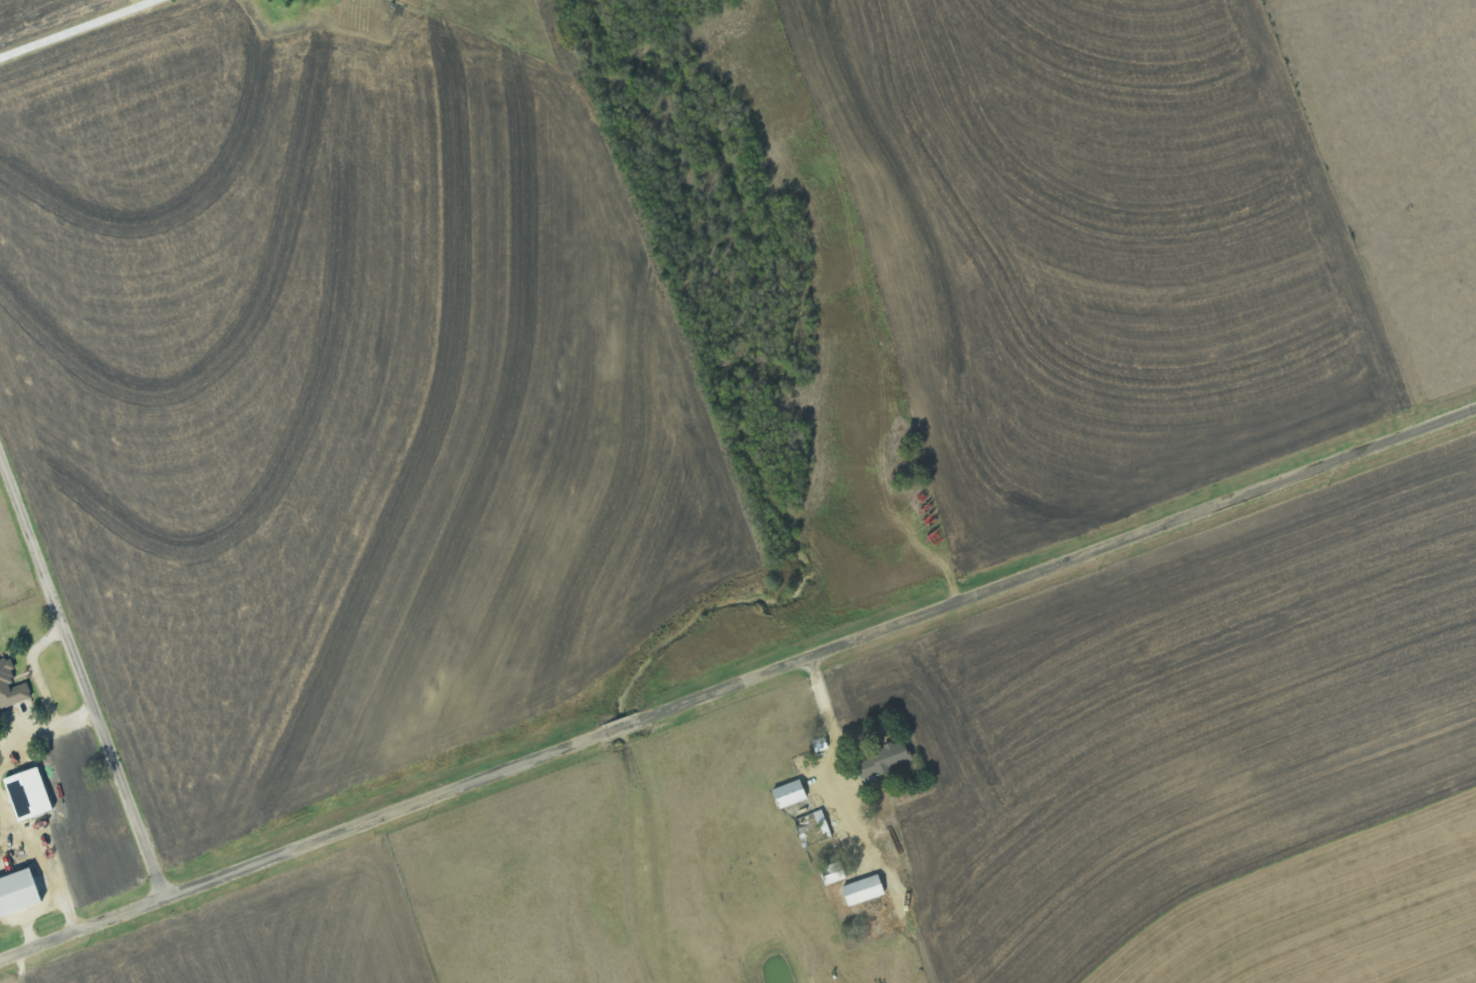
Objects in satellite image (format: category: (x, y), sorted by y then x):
road: (69, 26)
road: (82, 674)
road: (738, 685)
building: (11, 687)
road: (41, 689)
road: (827, 717)
road: (20, 737)
building: (883, 759)
building: (27, 793)
building: (789, 794)
road: (31, 847)
building: (833, 873)
building: (862, 889)
road: (45, 906)

